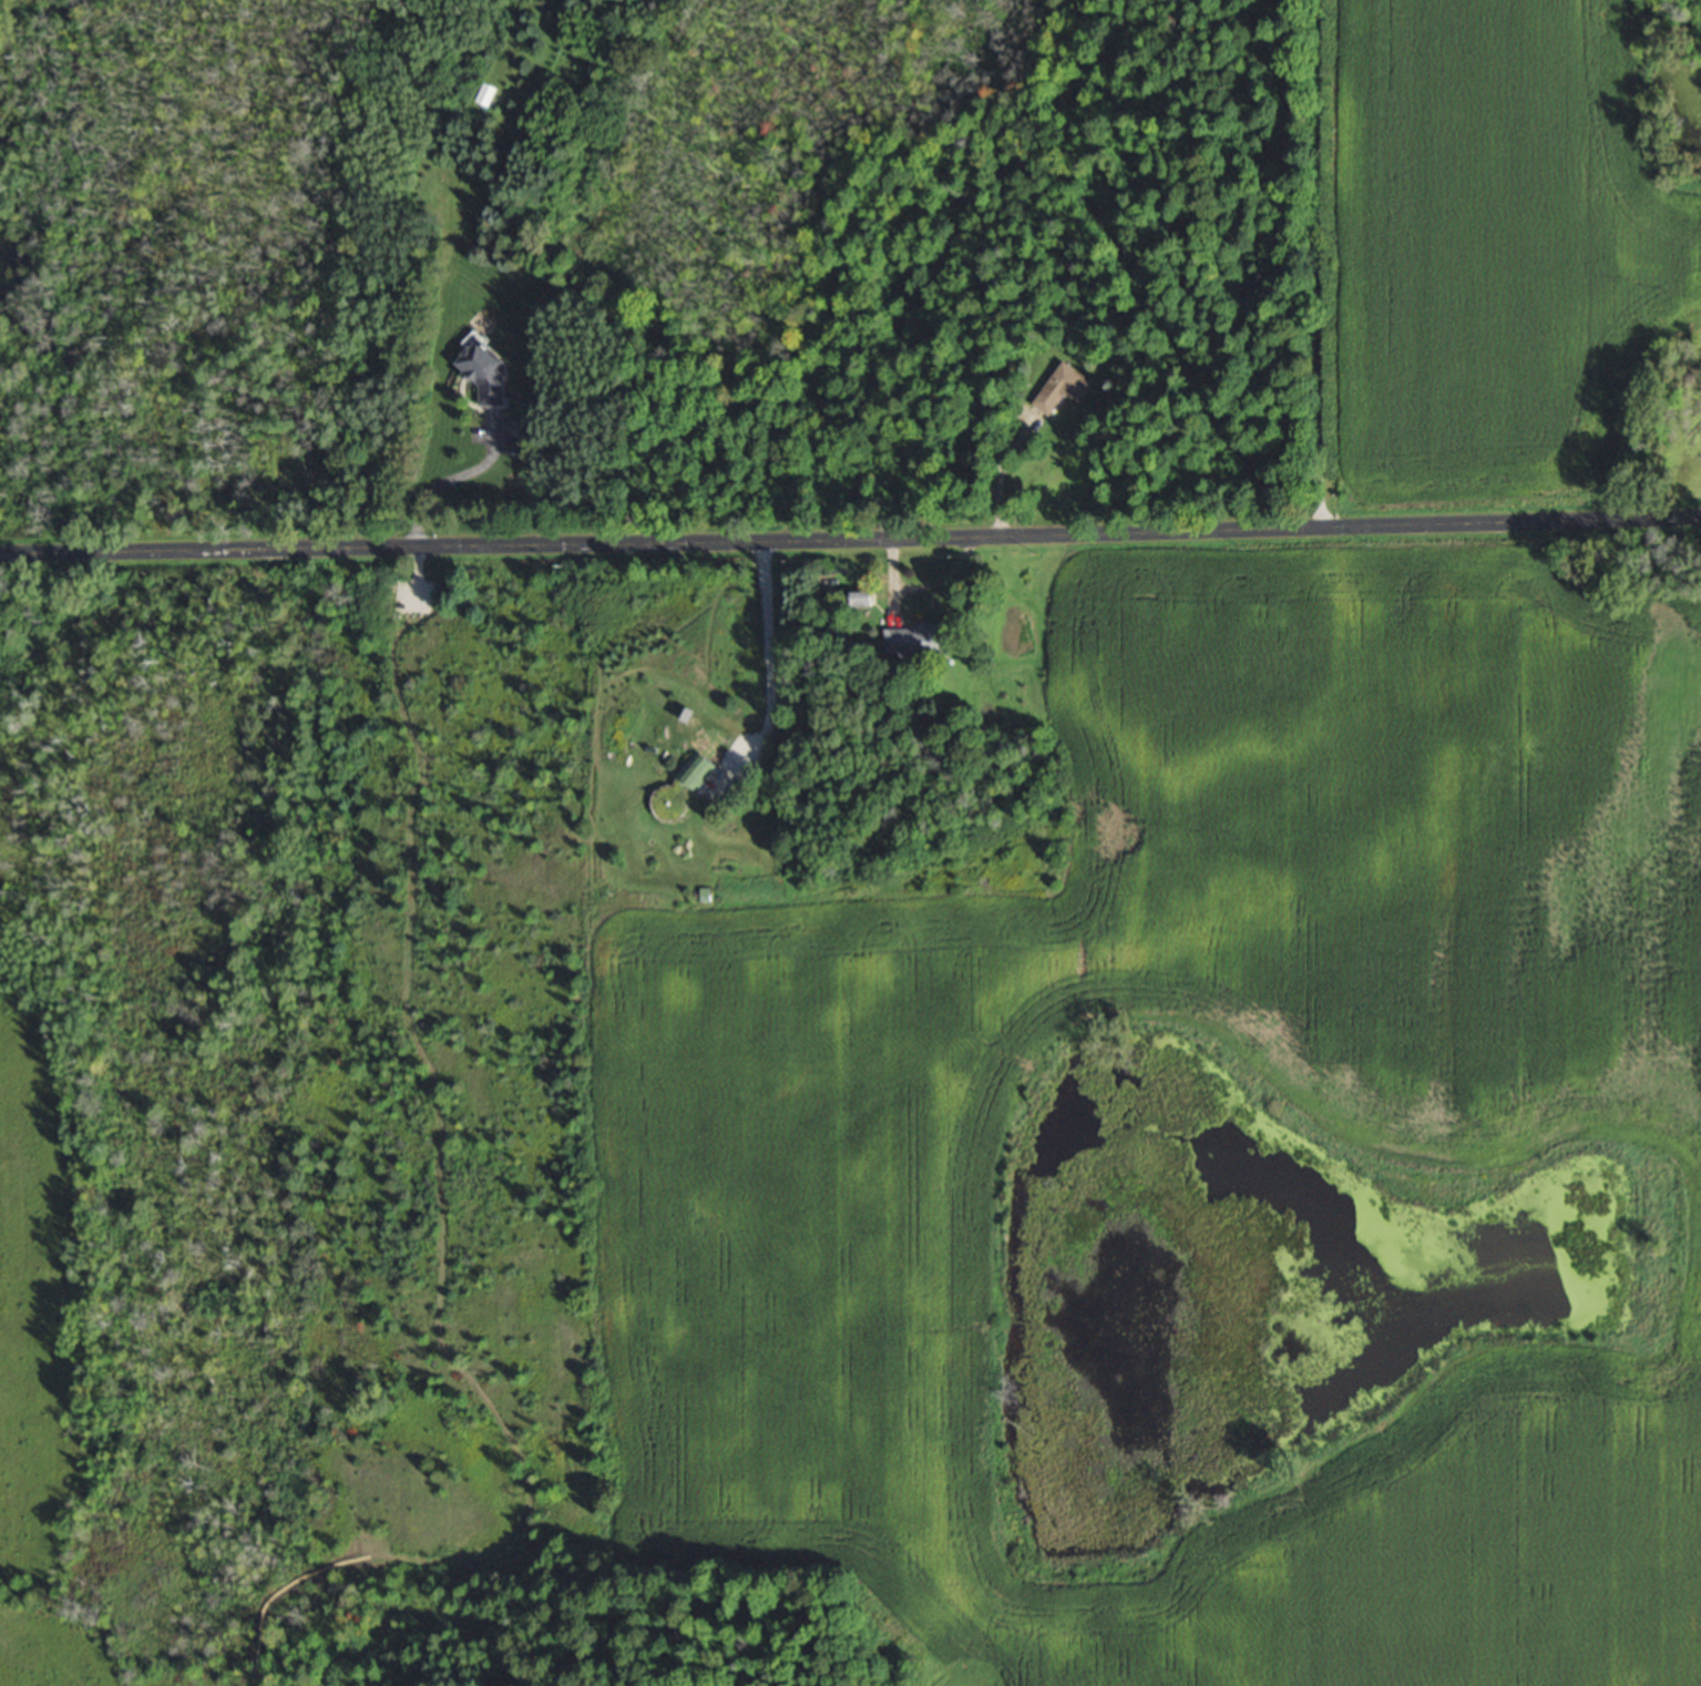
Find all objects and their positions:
building: (1063, 386)
road: (439, 482)
road: (1055, 535)
road: (204, 550)
parking lot: (400, 590)
building: (863, 597)
building: (916, 637)
road: (768, 651)
building: (697, 769)
road: (439, 1223)

